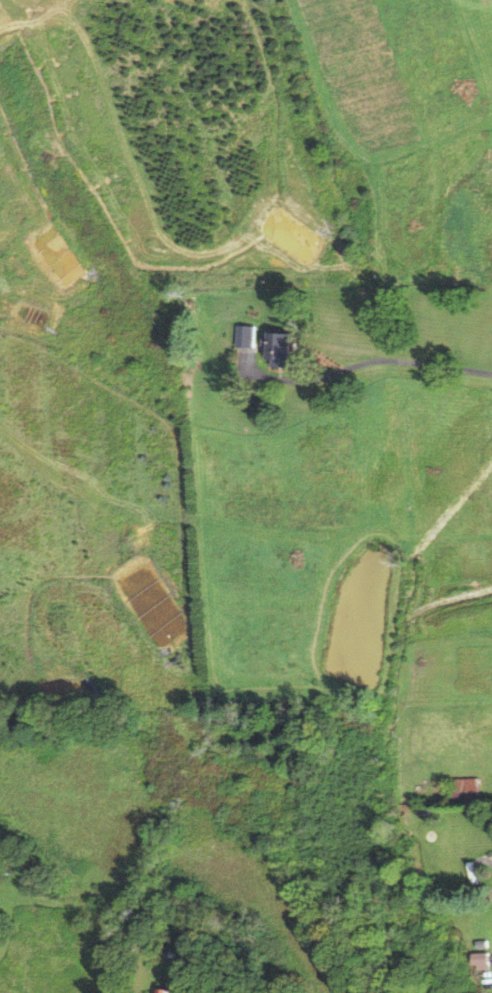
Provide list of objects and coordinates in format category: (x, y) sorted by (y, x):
building: (245, 336)
building: (277, 348)
road: (365, 363)
building: (466, 789)
building: (482, 960)
building: (167, 990)

